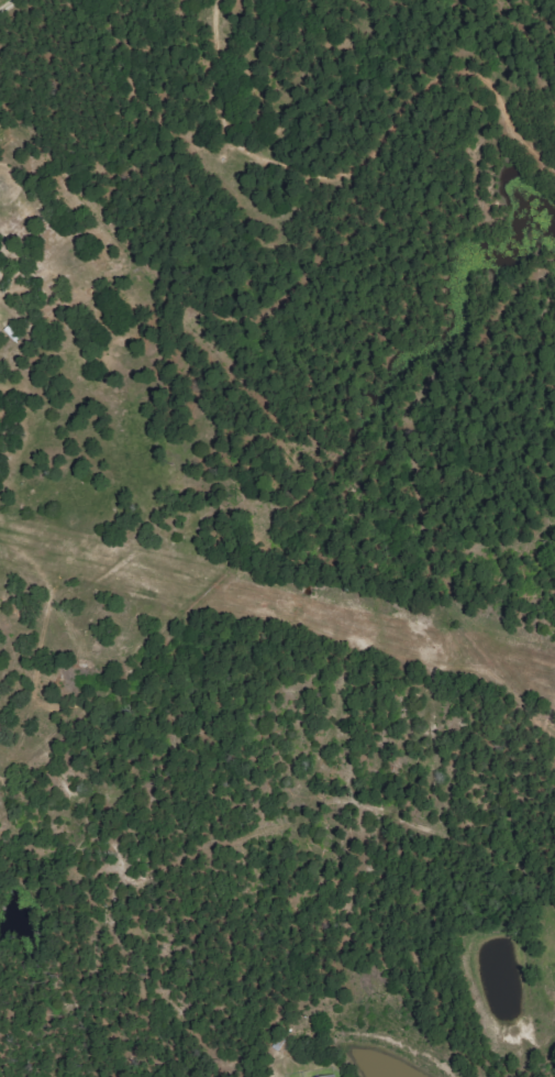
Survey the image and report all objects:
building: (335, 1076)

